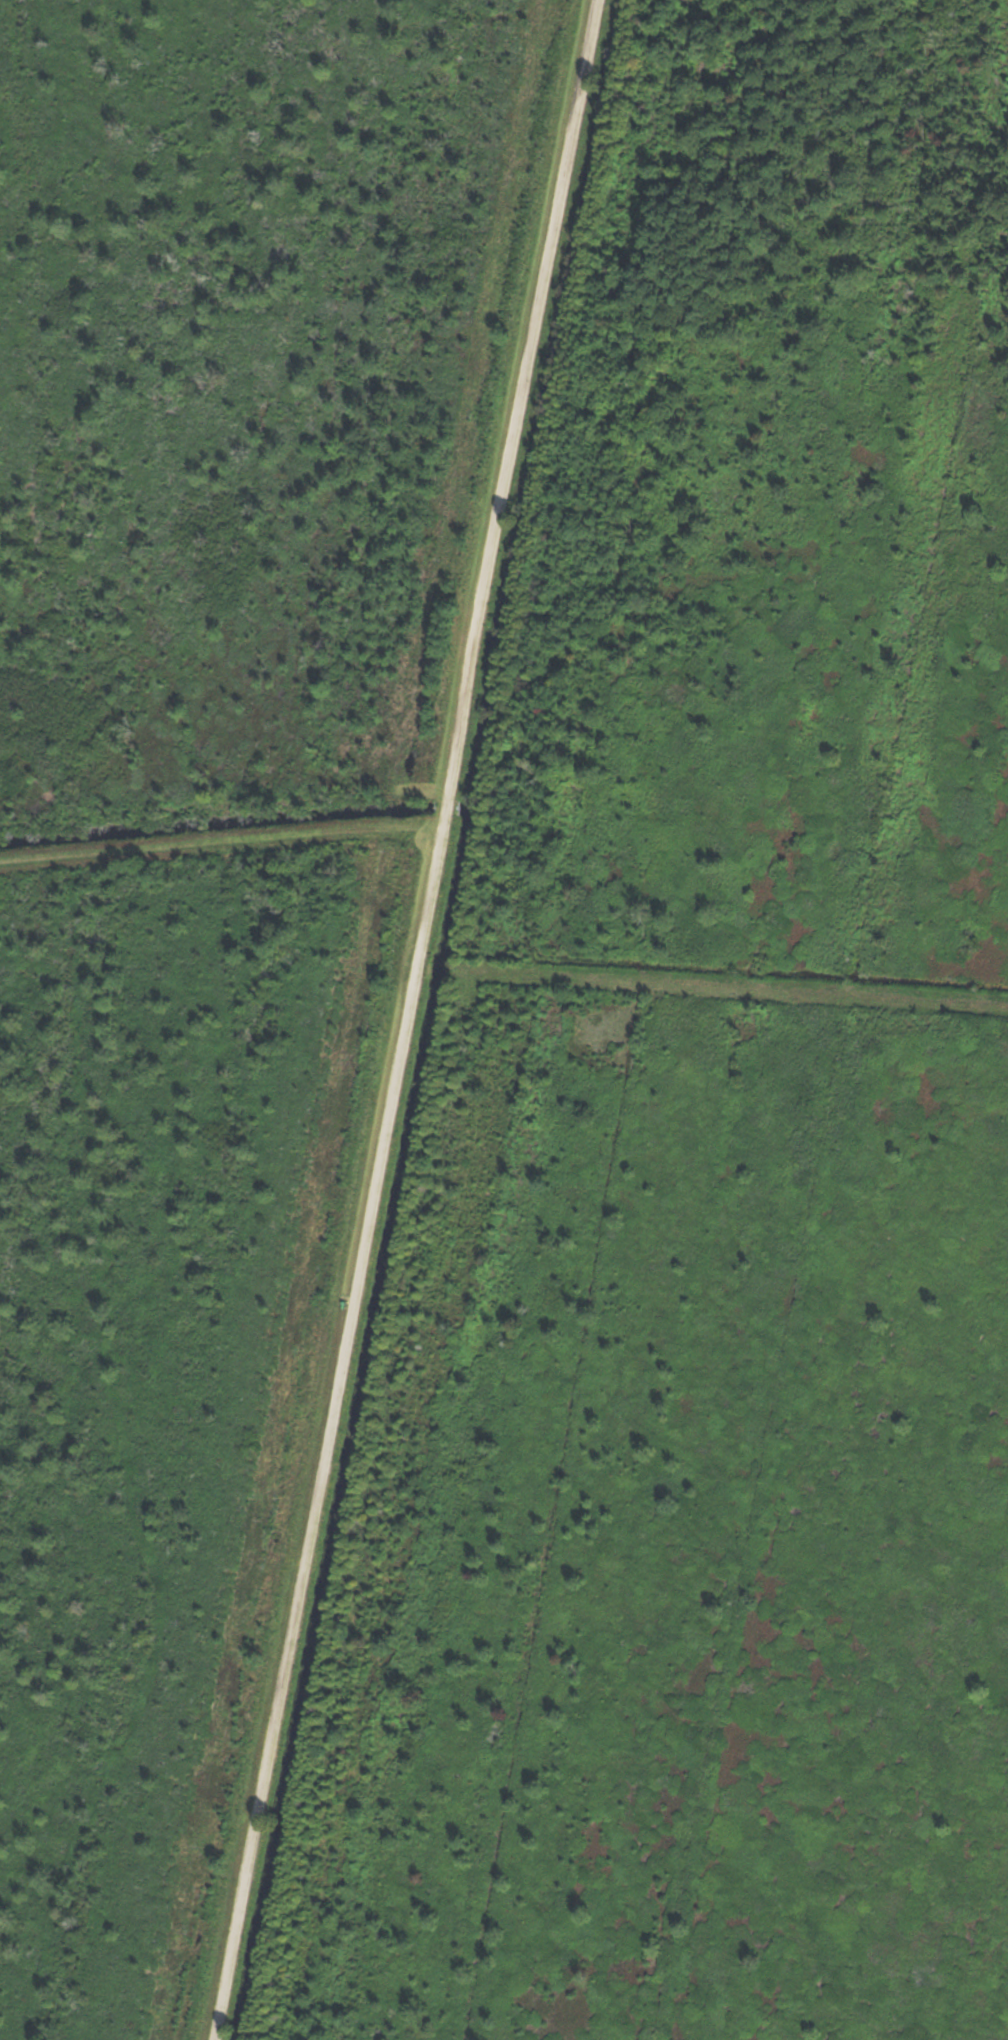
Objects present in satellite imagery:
road: (219, 836)
road: (740, 985)
road: (403, 1020)

